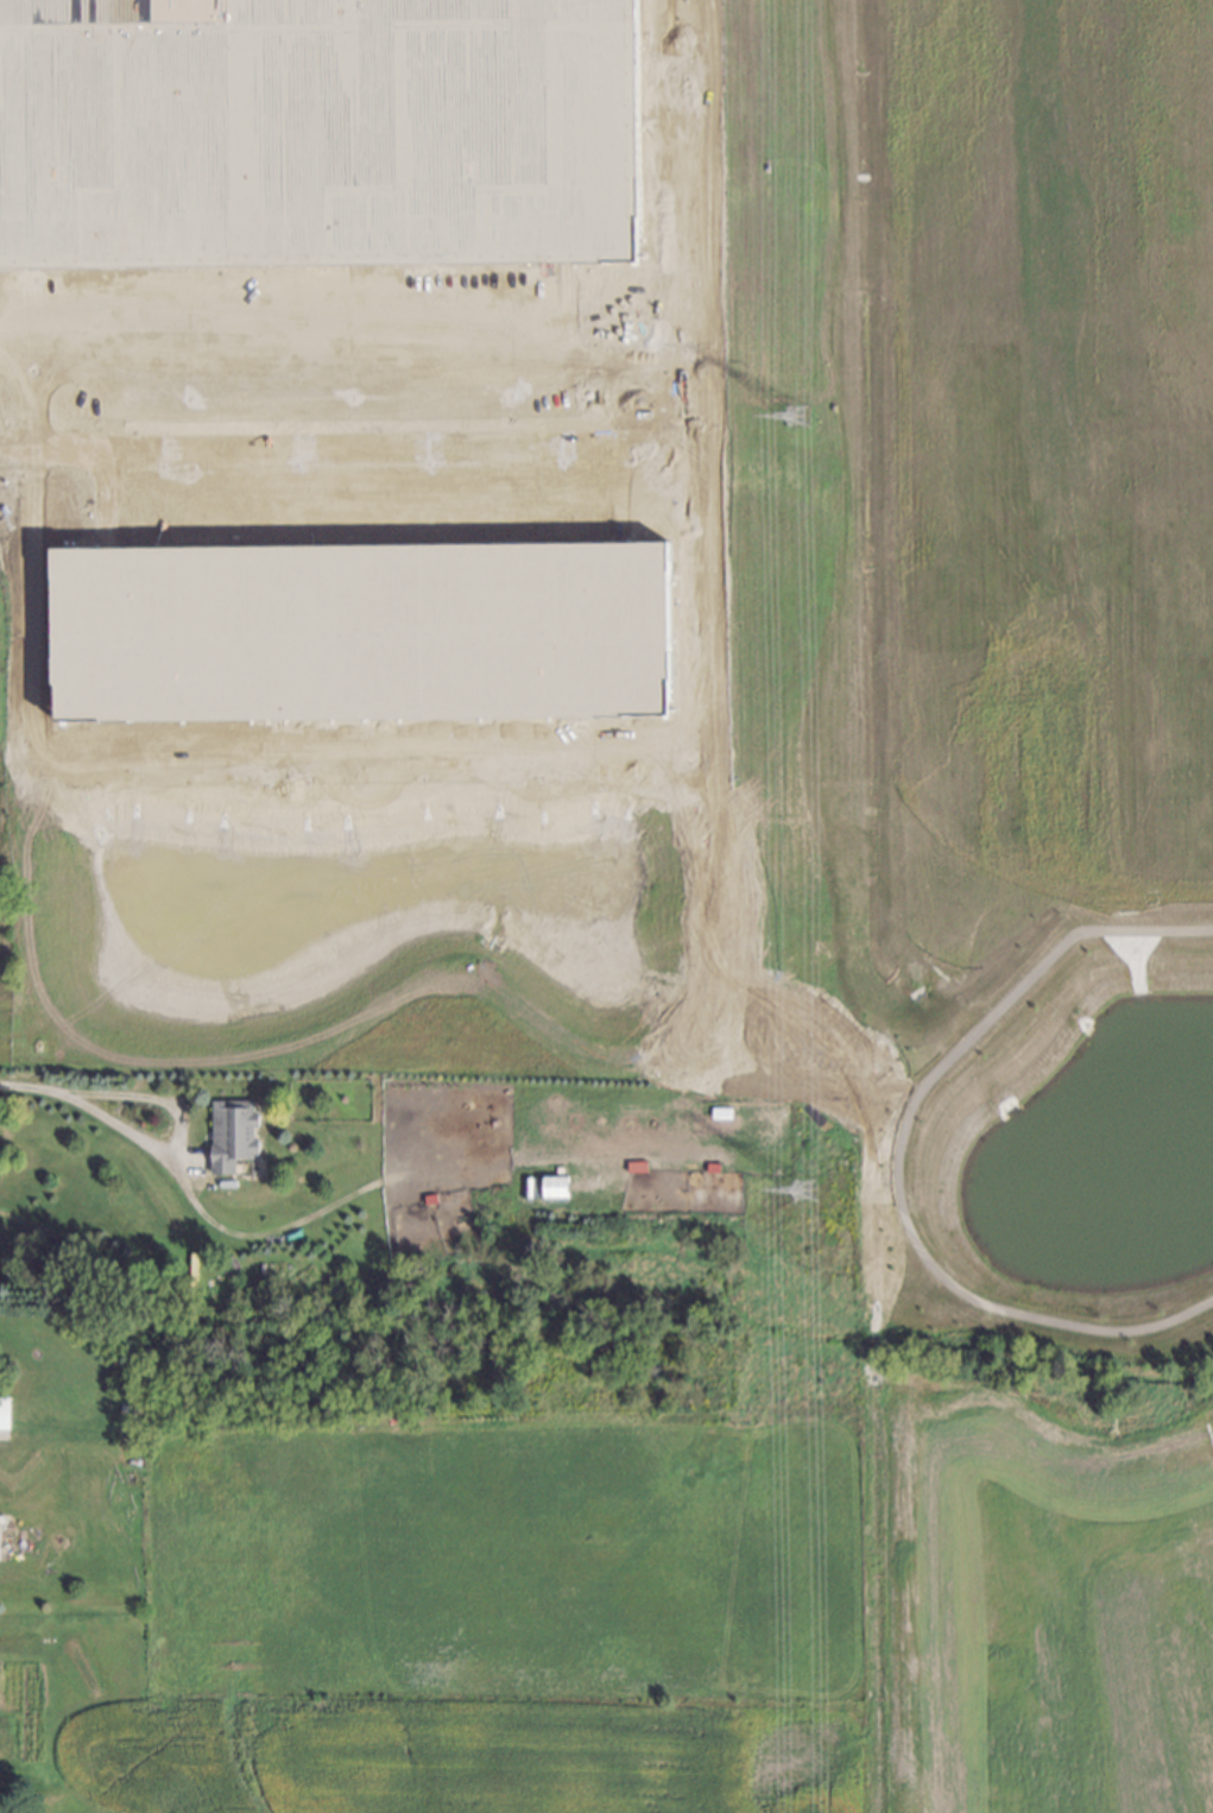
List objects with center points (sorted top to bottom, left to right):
power tower: (798, 417)
crop: (431, 533)
building: (1, 873)
road: (93, 1112)
building: (230, 1131)
building: (632, 1160)
building: (707, 1168)
building: (555, 1179)
power tower: (808, 1185)
building: (428, 1194)
building: (267, 1264)
building: (5, 1415)

